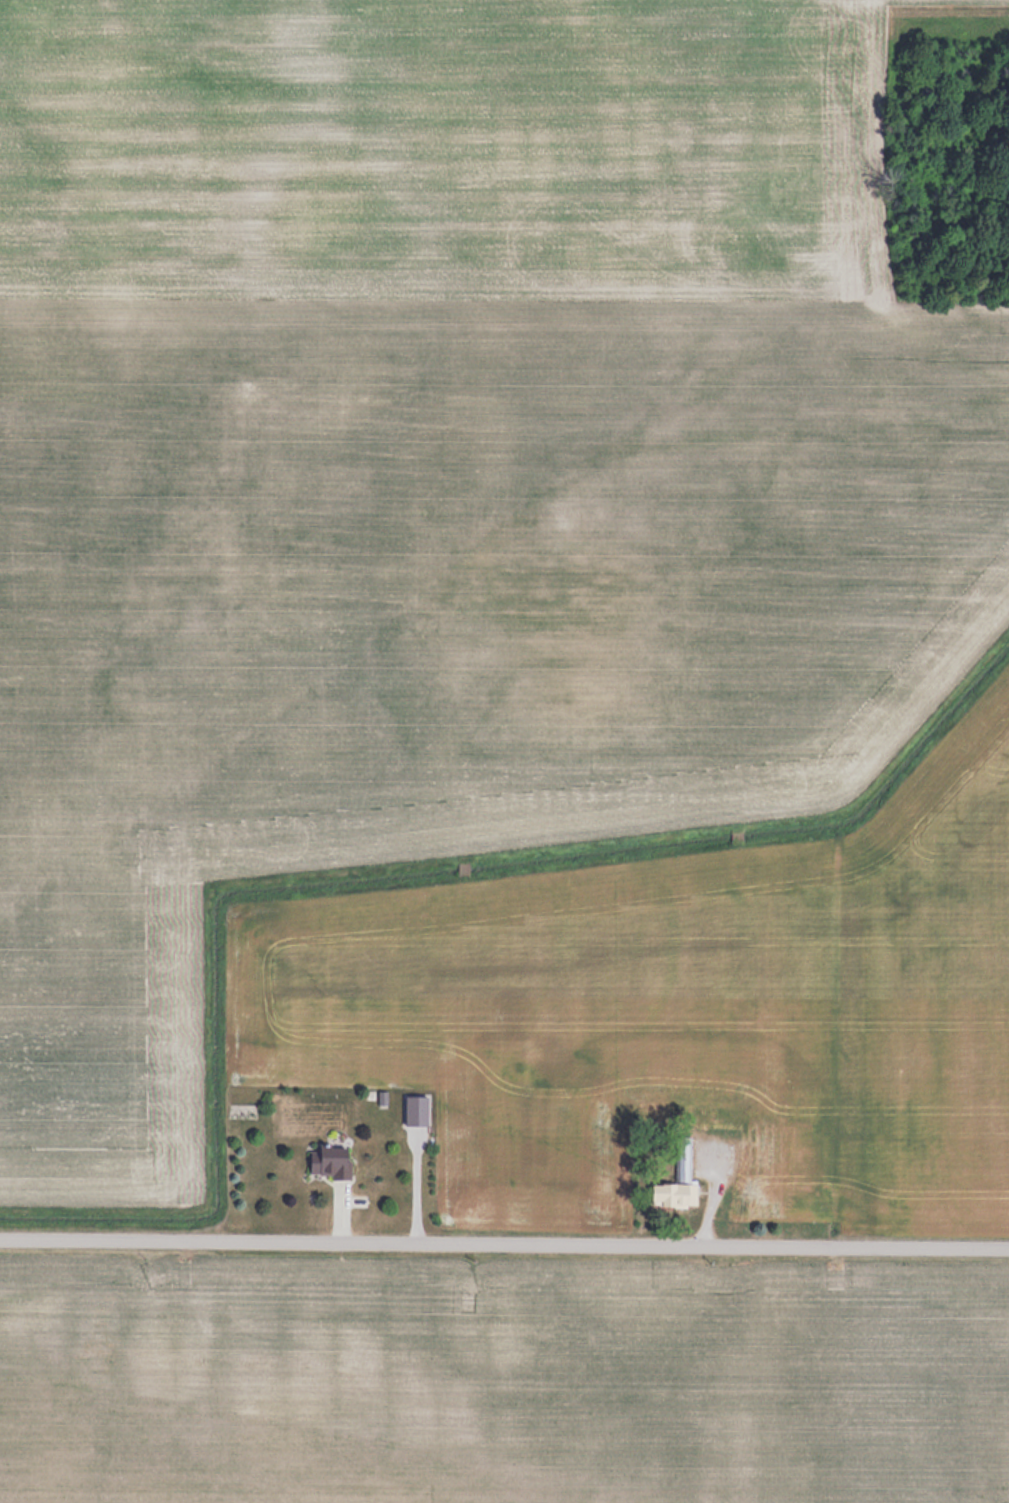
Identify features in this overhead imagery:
building: (415, 1111)
building: (683, 1158)
building: (329, 1161)
road: (504, 1249)

